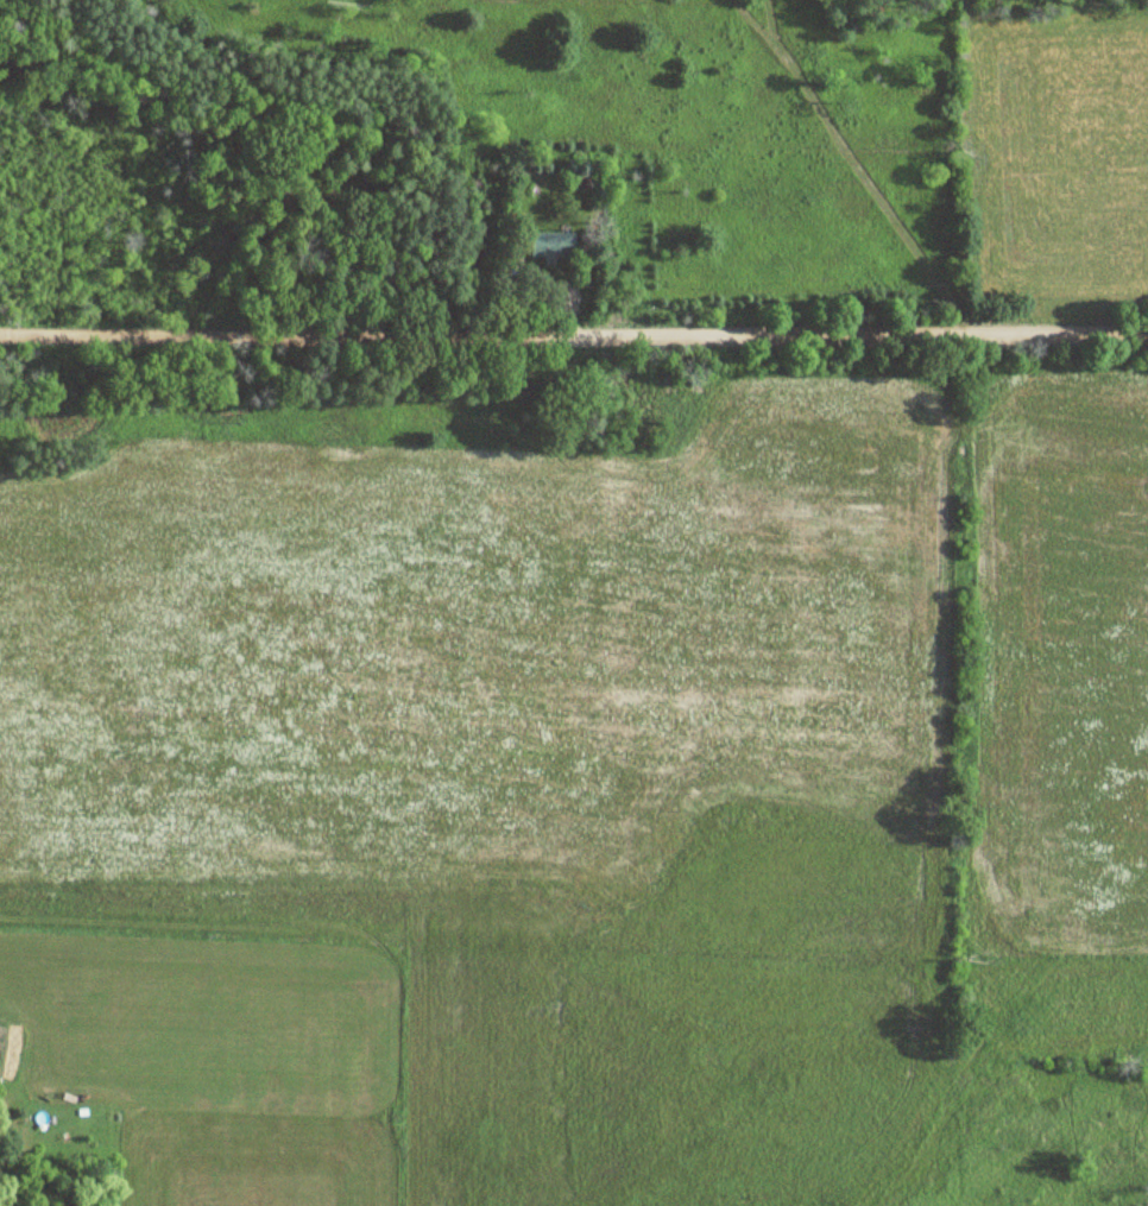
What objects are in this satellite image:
building: (556, 245)
road: (574, 335)

